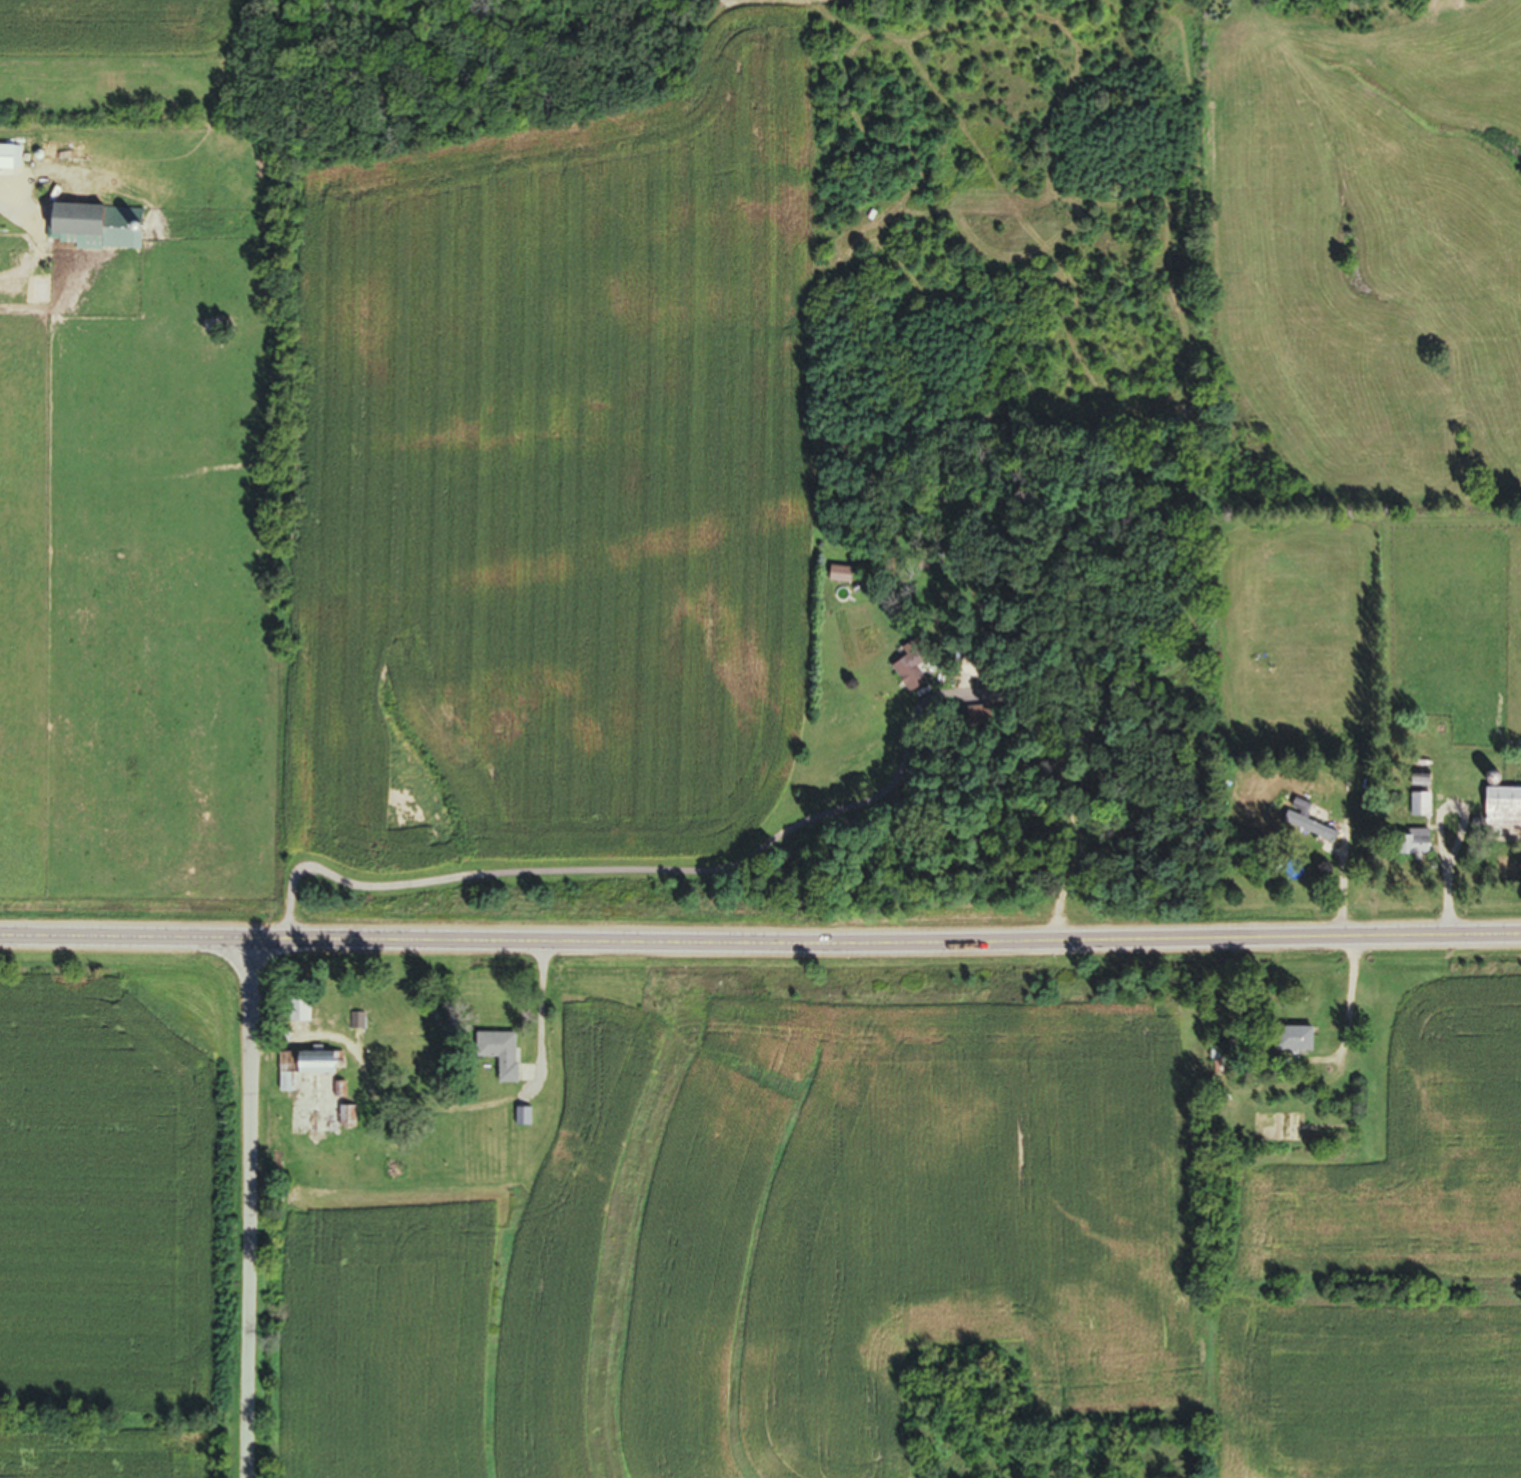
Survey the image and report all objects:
building: (8, 161)
road: (10, 213)
building: (95, 229)
building: (906, 674)
building: (1499, 811)
building: (1303, 827)
building: (1408, 849)
road: (591, 876)
road: (760, 950)
building: (295, 1016)
building: (398, 1037)
building: (1290, 1044)
building: (496, 1059)
building: (296, 1071)
building: (345, 1125)
building: (388, 1162)
road: (249, 1213)

